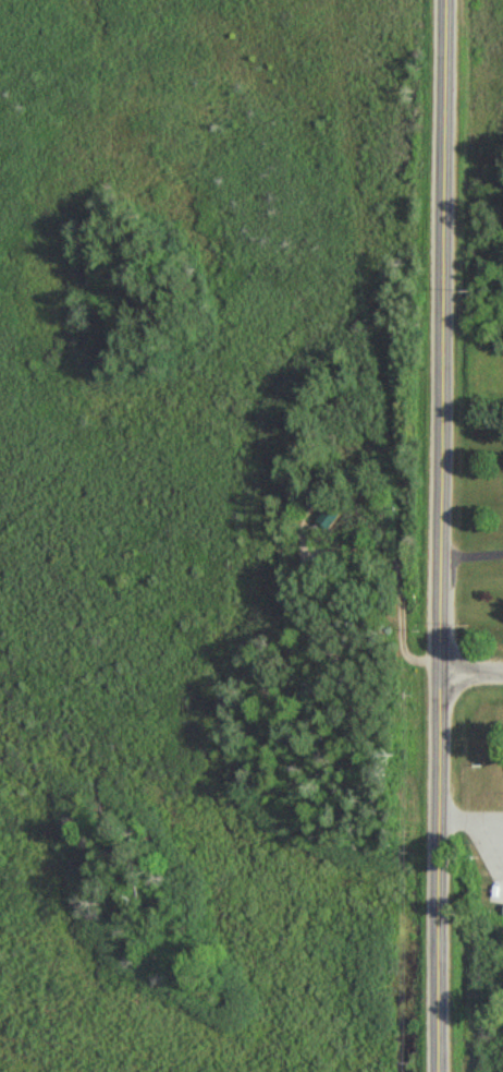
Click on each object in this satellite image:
road: (441, 535)
road: (471, 669)

